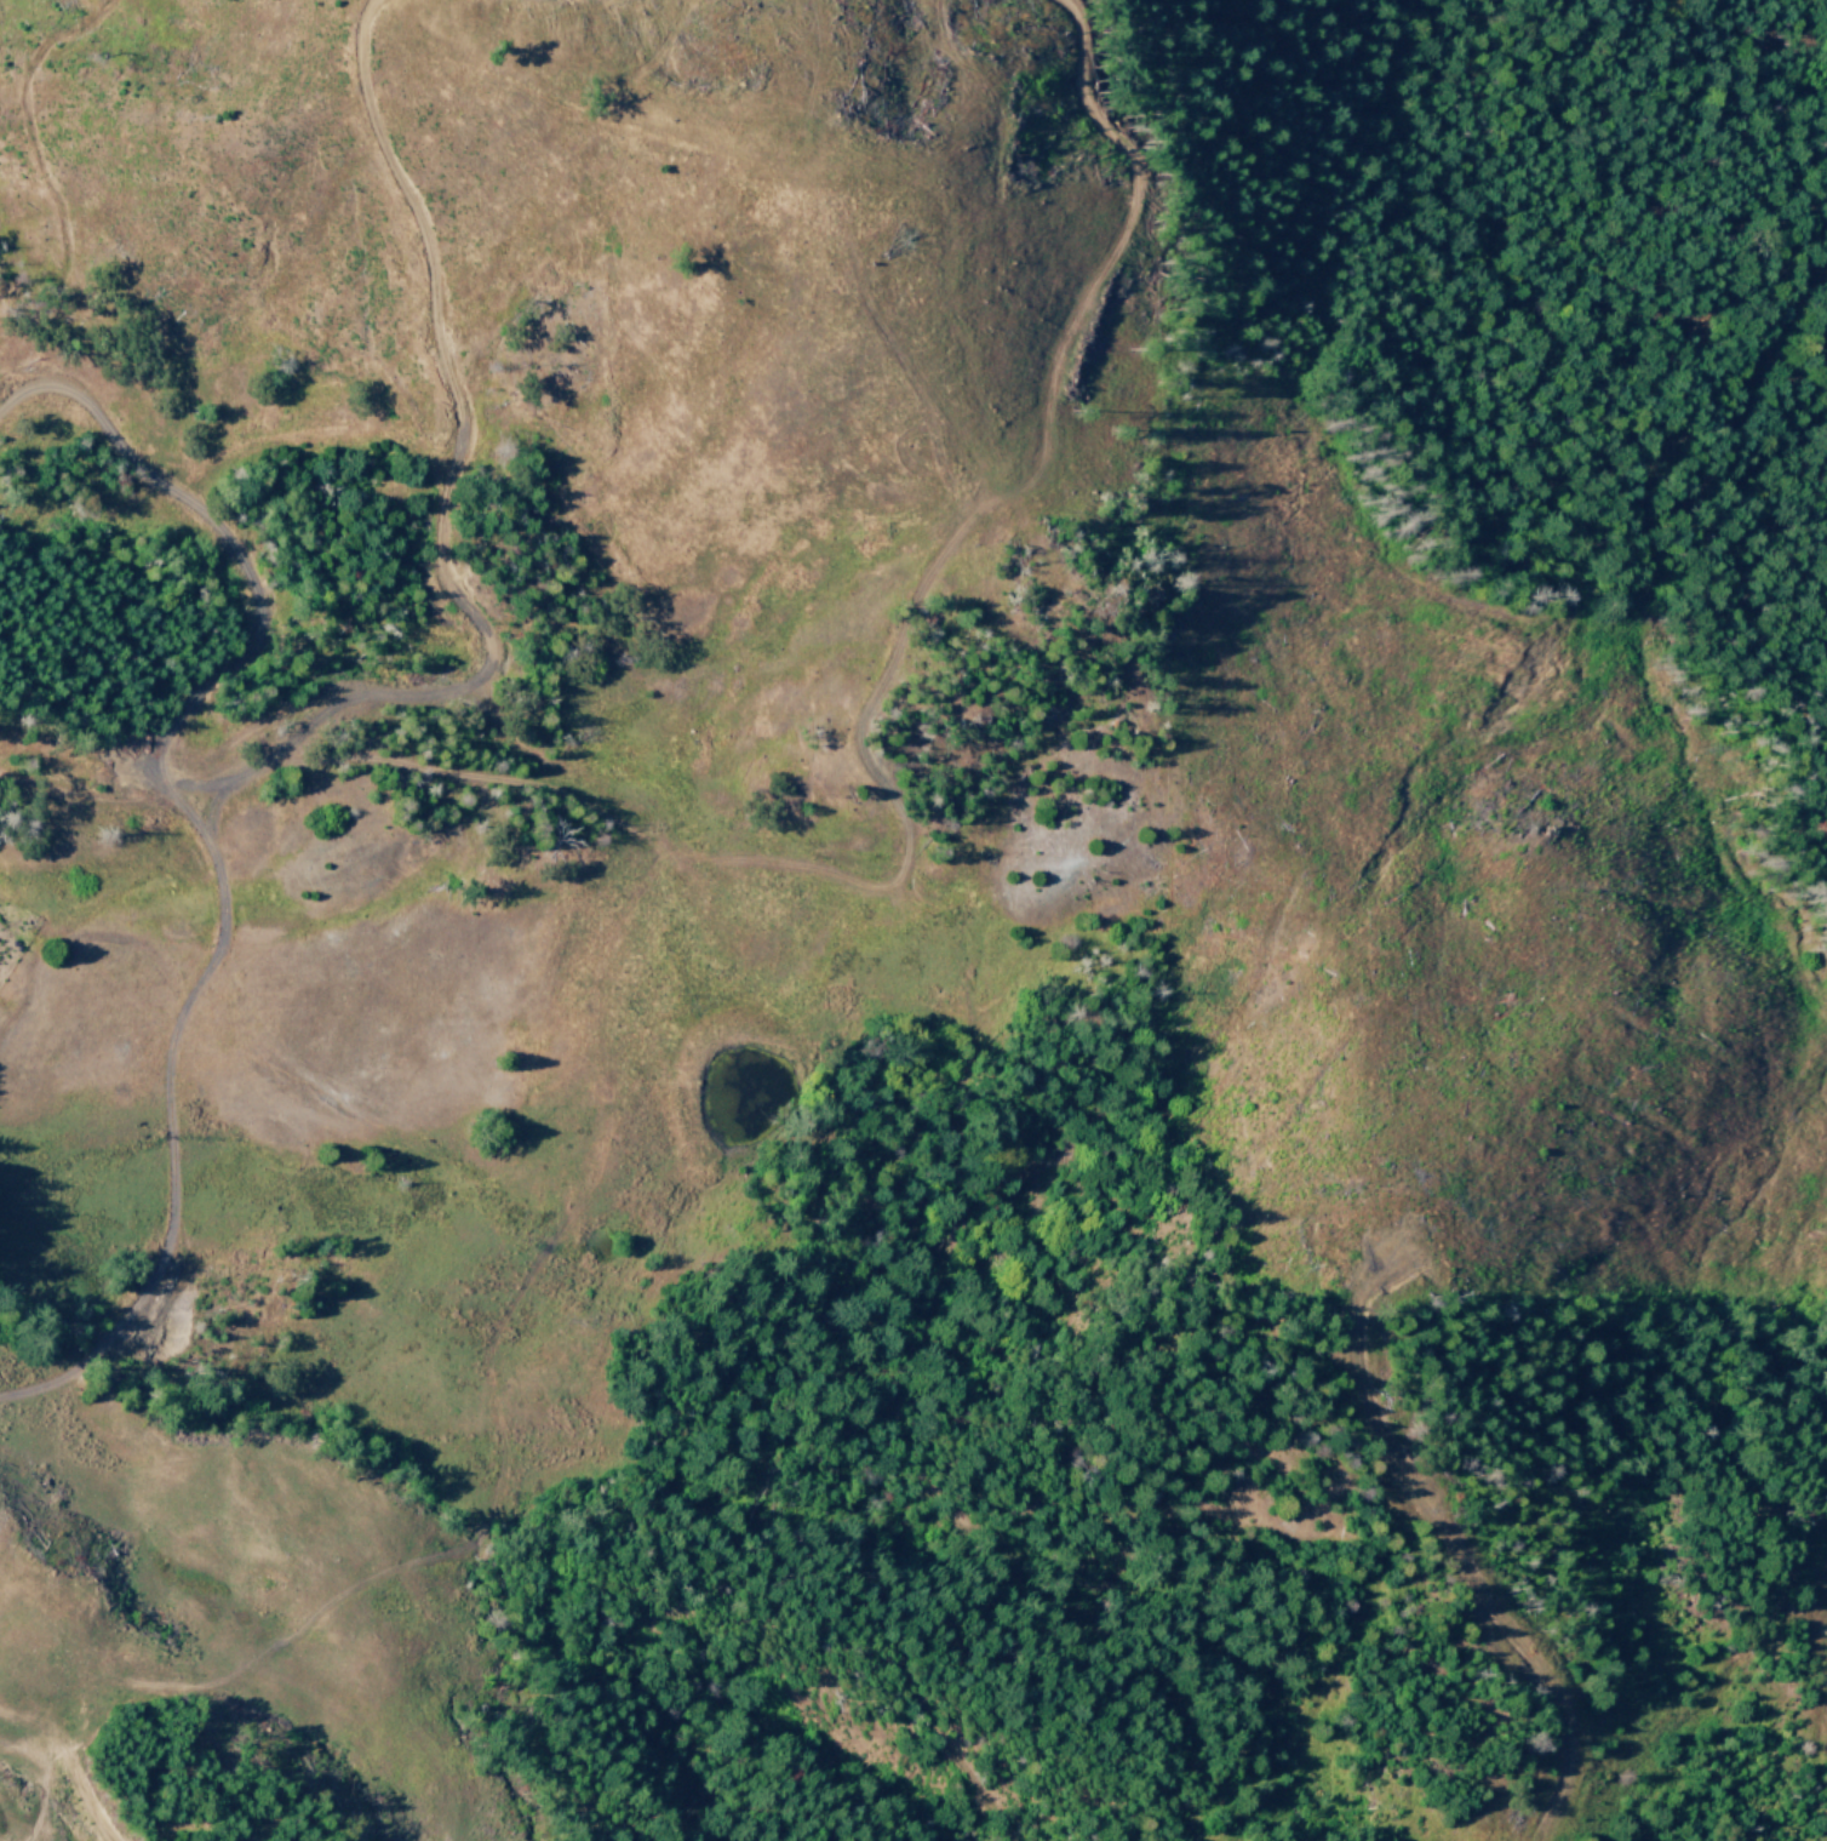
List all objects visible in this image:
road: (1797, 284)

